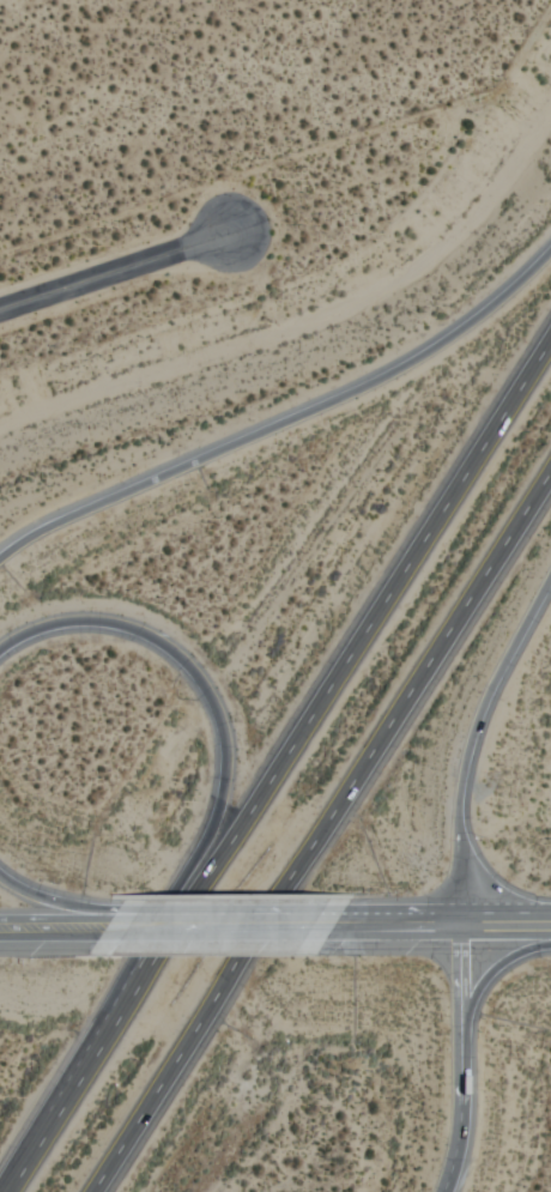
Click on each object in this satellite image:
crop: (236, 184)
road: (114, 271)
road: (286, 418)
road: (340, 668)
road: (222, 734)
road: (467, 739)
road: (320, 829)
road: (50, 902)
road: (115, 925)
road: (502, 925)
road: (217, 926)
road: (381, 926)
road: (62, 927)
road: (478, 993)
road: (455, 1059)
road: (68, 1096)

